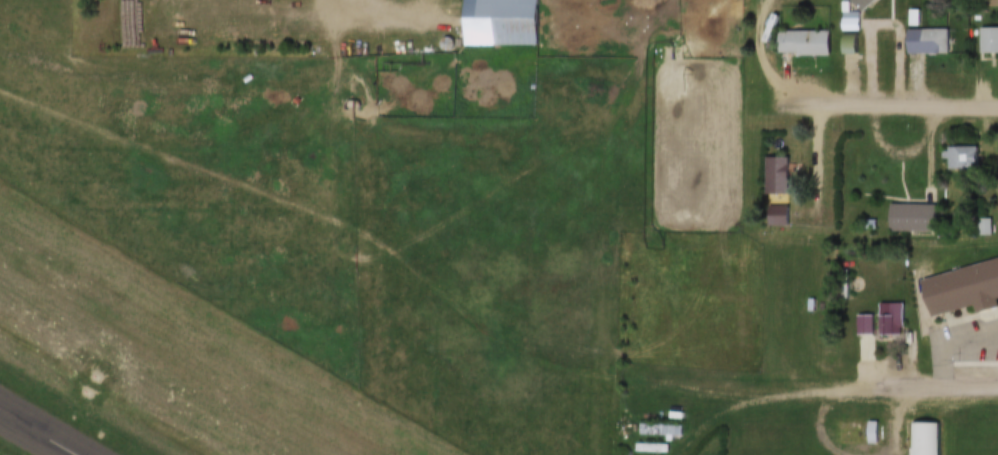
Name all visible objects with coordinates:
building: (860, 5)
building: (496, 24)
building: (986, 43)
building: (930, 44)
building: (801, 46)
road: (771, 52)
road: (891, 103)
building: (994, 157)
building: (958, 161)
building: (773, 179)
building: (997, 199)
building: (909, 221)
building: (960, 293)
building: (888, 322)
airport: (152, 364)
road: (947, 385)
road: (802, 394)
airport runway: (31, 436)
building: (920, 440)

